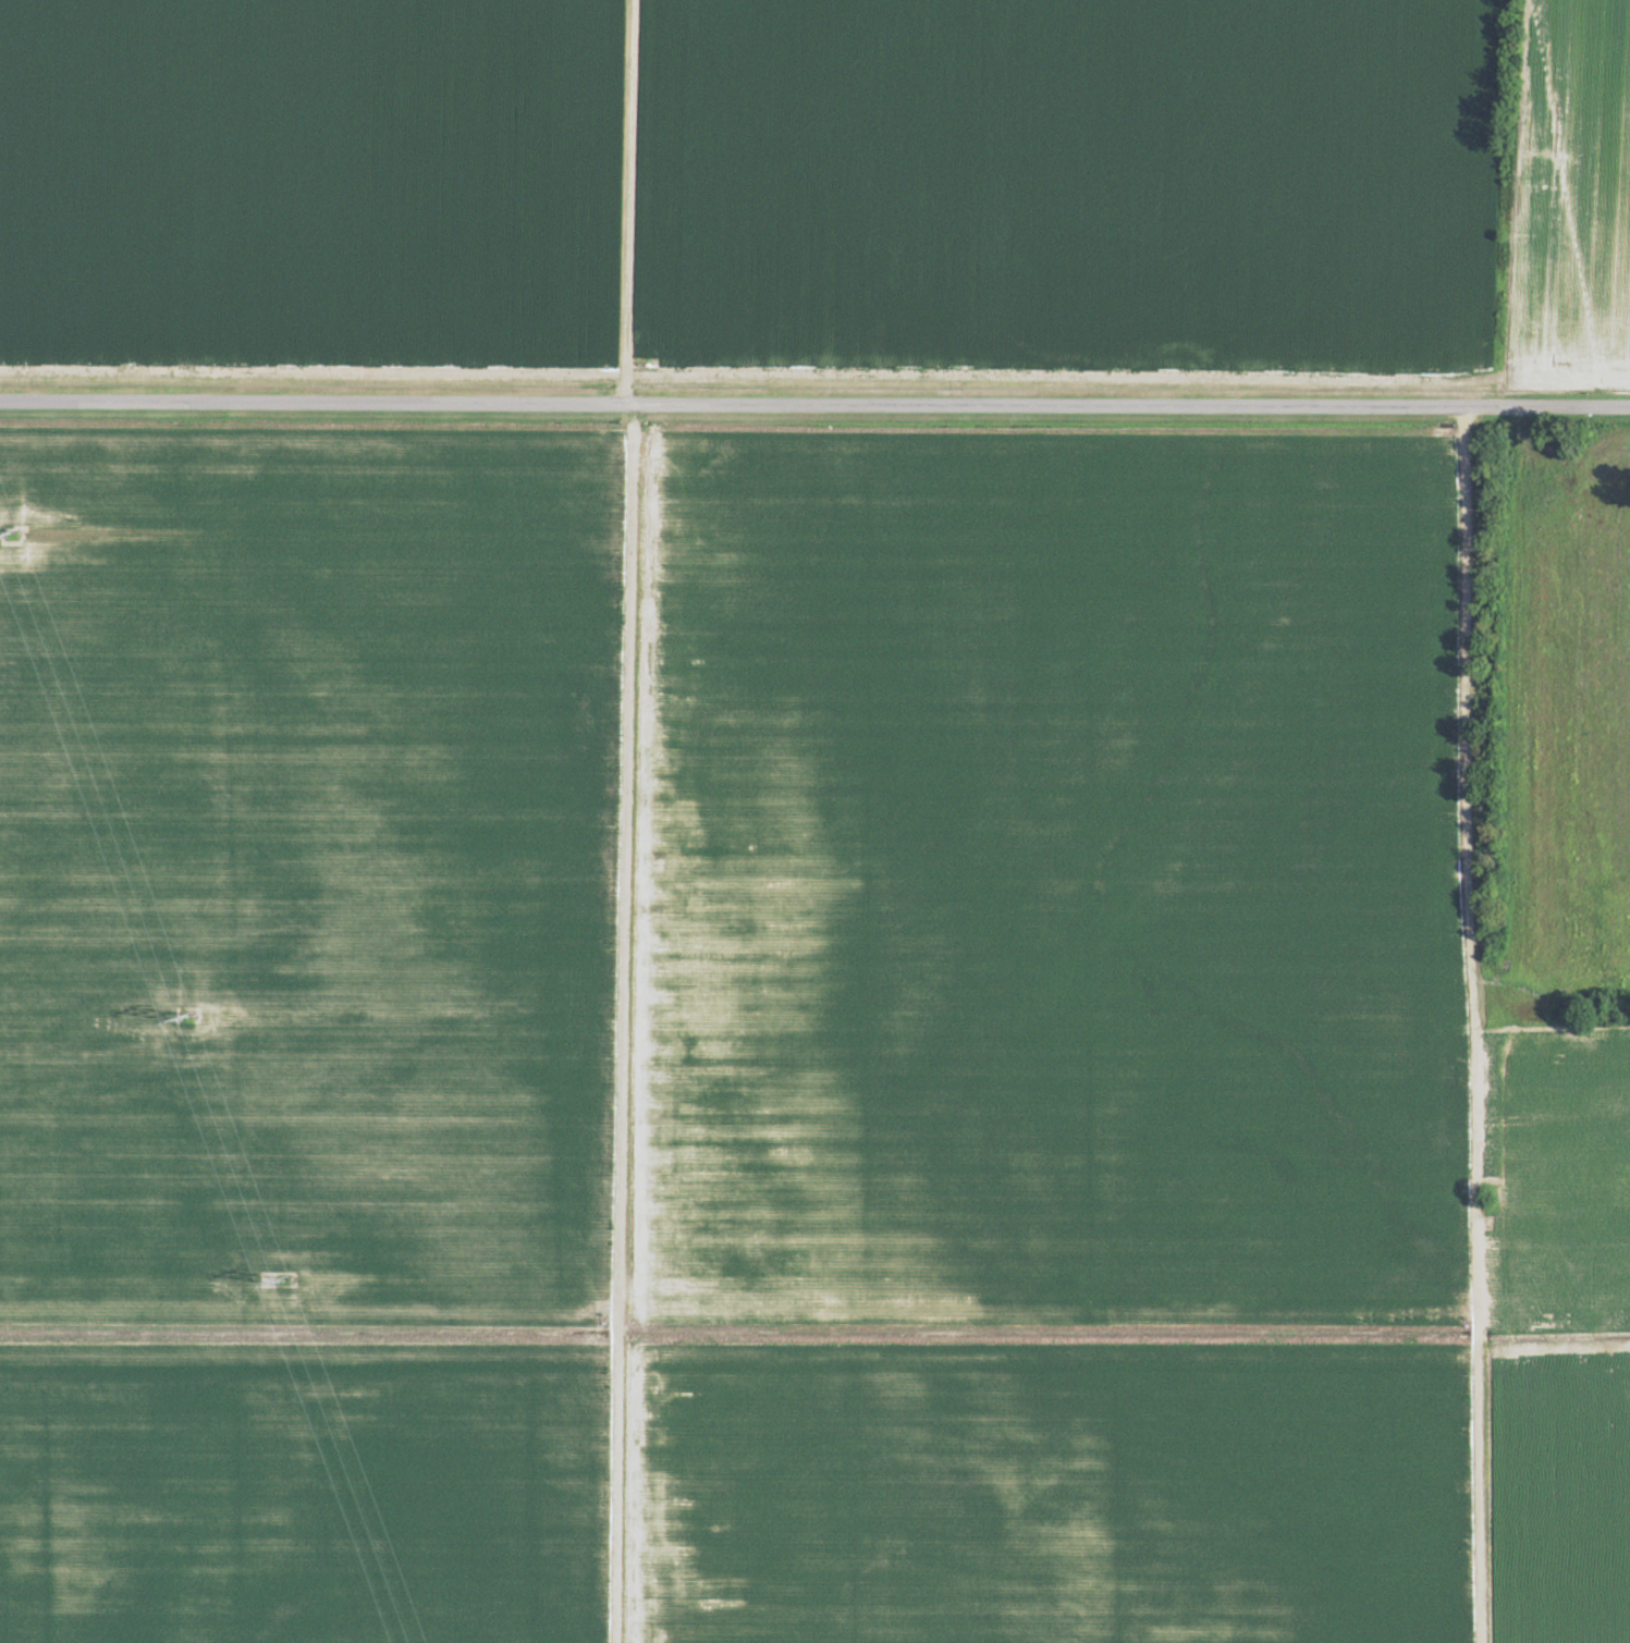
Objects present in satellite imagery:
road: (740, 404)
road: (1556, 407)
power tower: (15, 529)
power tower: (193, 1015)
power tower: (287, 1278)

